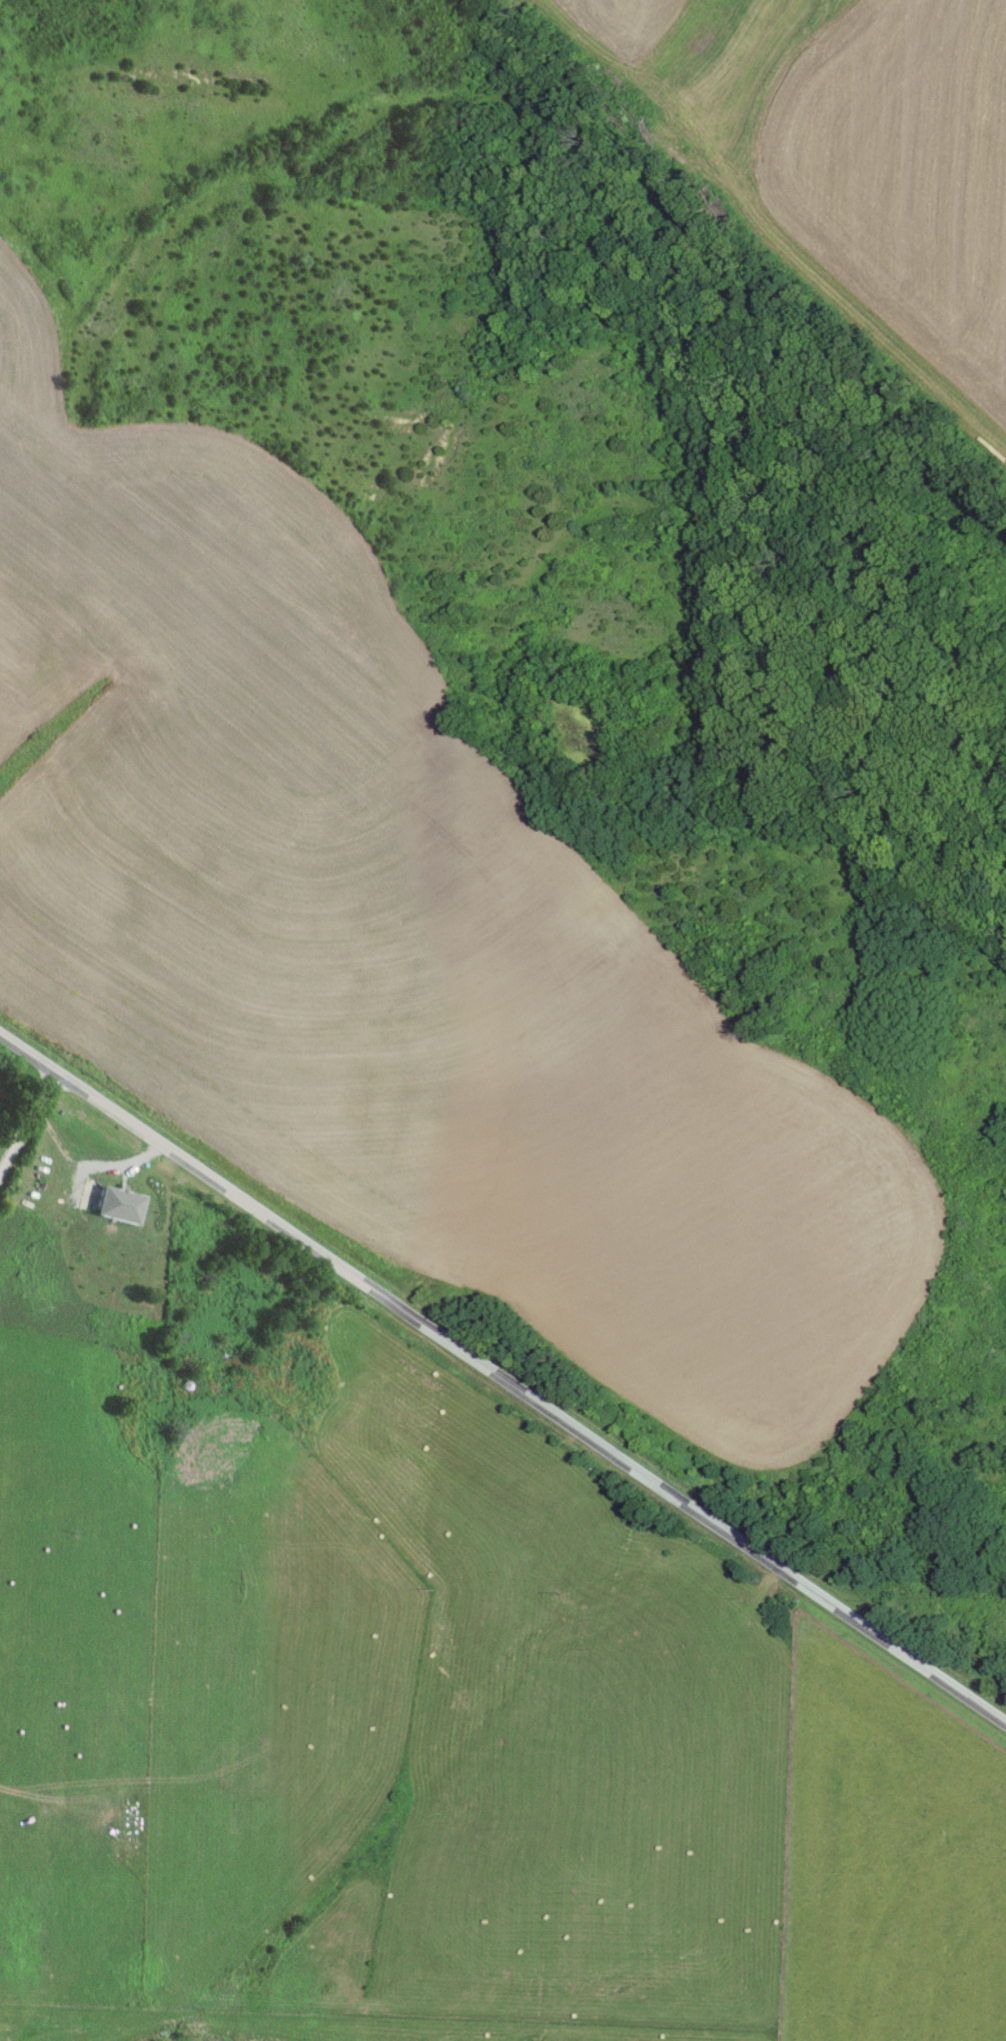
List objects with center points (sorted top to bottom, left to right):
road: (28, 1120)
road: (503, 1376)

